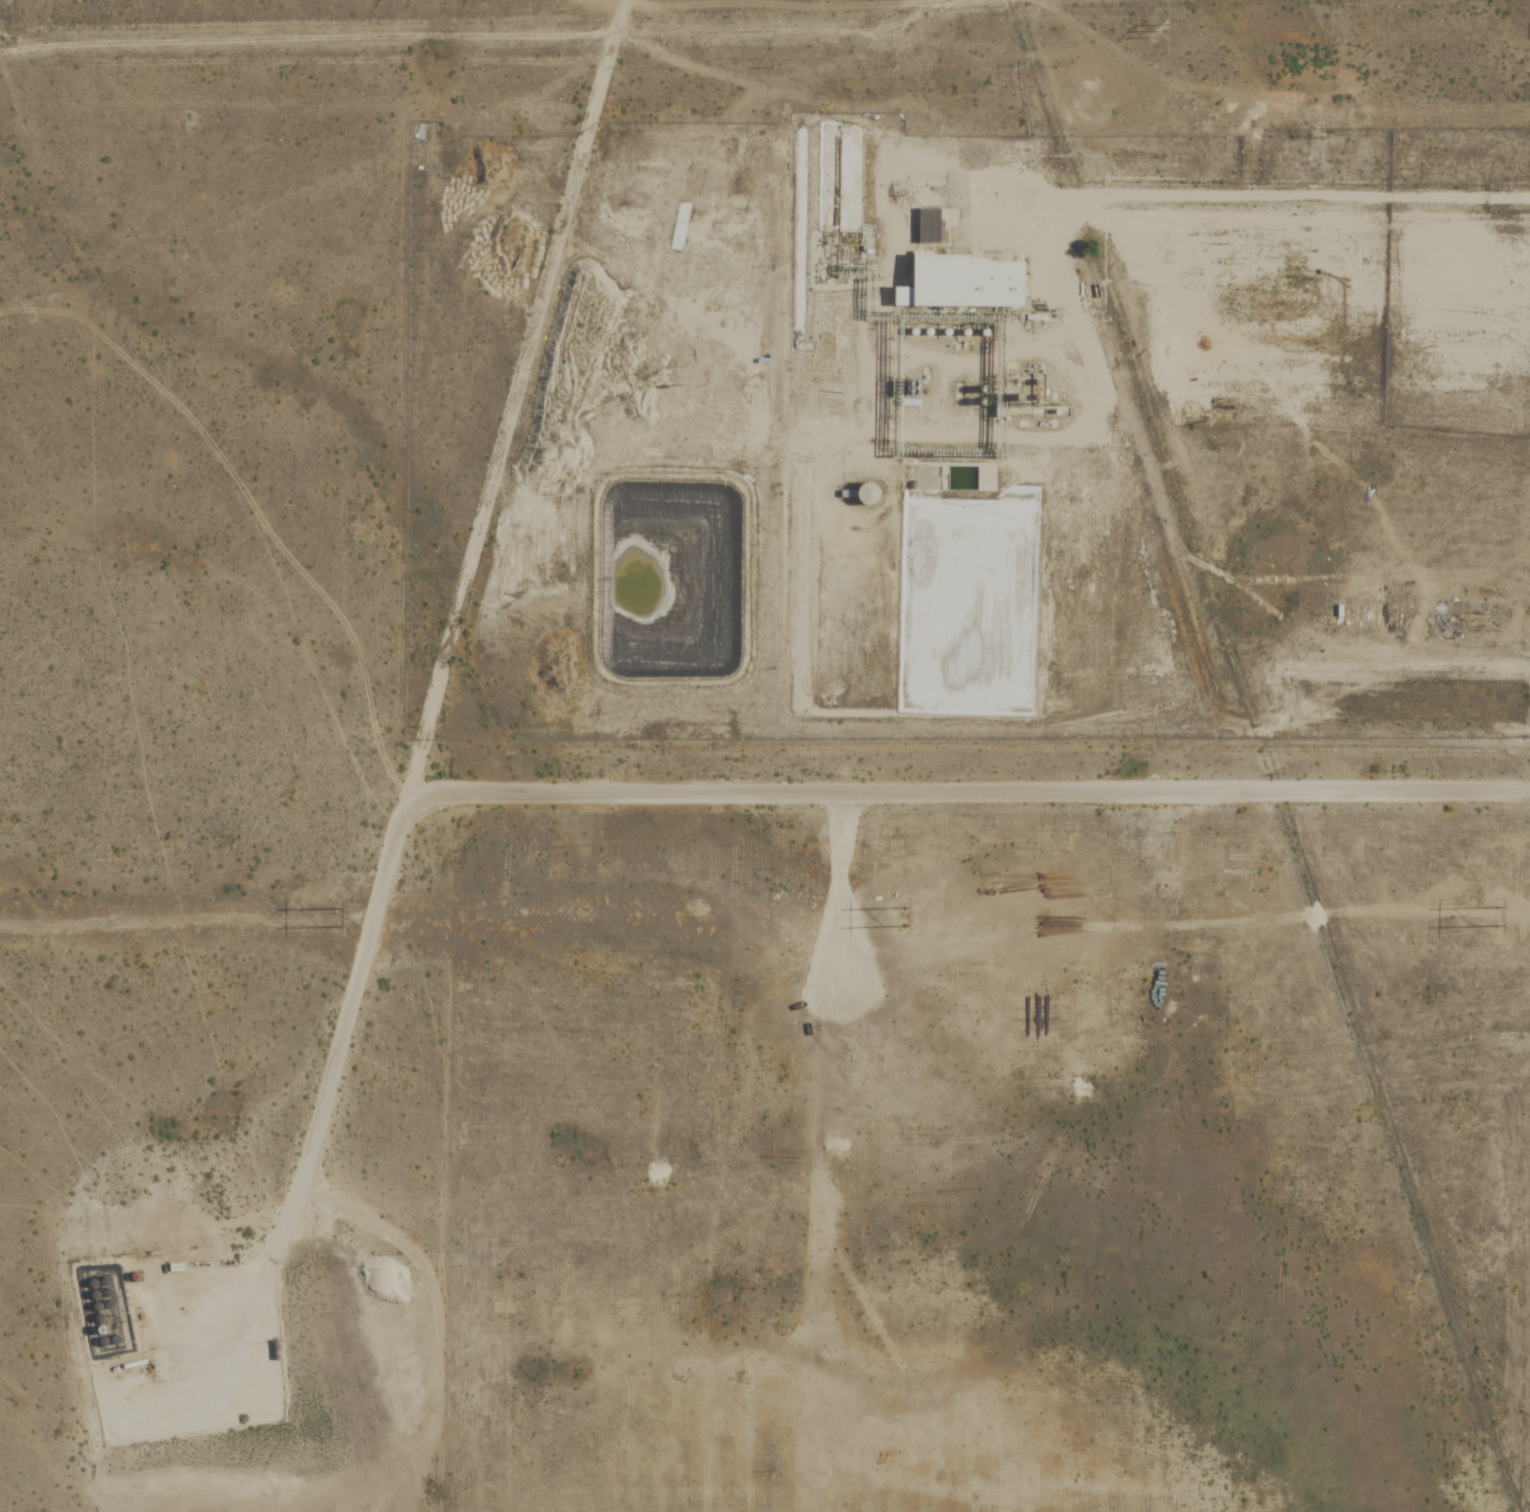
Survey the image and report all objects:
power tower: (1160, 32)
power tower: (1252, 118)
building: (960, 283)
road: (638, 795)
power tower: (1490, 914)
power tower: (335, 916)
power tower: (900, 916)

